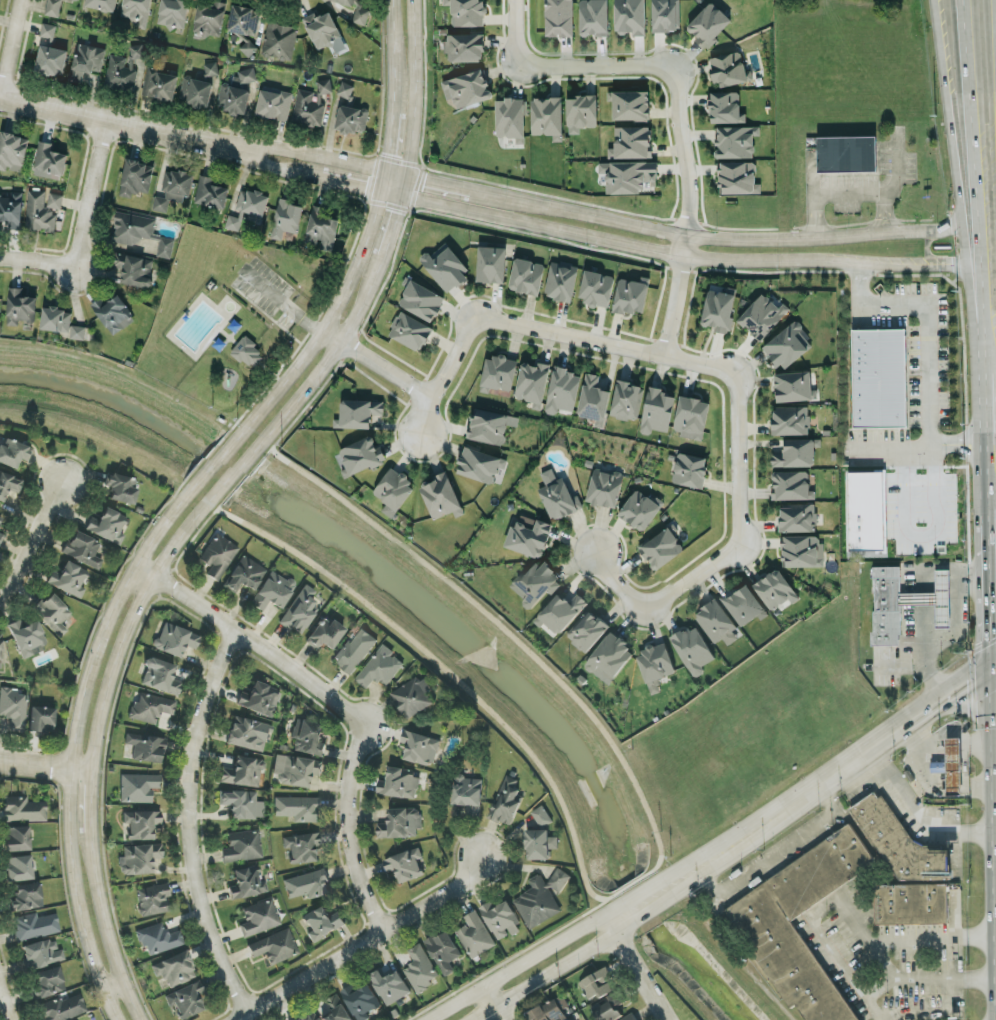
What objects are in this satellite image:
building: (77, 0)
building: (100, 4)
building: (52, 7)
building: (357, 10)
building: (136, 11)
building: (466, 12)
building: (172, 13)
building: (664, 15)
building: (629, 16)
building: (558, 17)
building: (592, 17)
building: (208, 18)
road: (995, 18)
building: (708, 23)
building: (244, 24)
building: (47, 29)
building: (322, 30)
building: (278, 39)
building: (463, 46)
road: (11, 49)
road: (392, 55)
building: (50, 59)
building: (85, 60)
road: (650, 63)
building: (727, 67)
building: (122, 68)
building: (210, 68)
building: (159, 83)
building: (466, 87)
building: (344, 88)
building: (195, 90)
building: (235, 91)
building: (273, 102)
building: (310, 103)
building: (629, 104)
building: (725, 106)
building: (580, 111)
building: (546, 116)
building: (350, 117)
building: (509, 118)
road: (102, 119)
road: (950, 131)
road: (389, 140)
building: (735, 140)
building: (630, 141)
building: (12, 150)
building: (846, 153)
road: (295, 154)
building: (48, 158)
road: (291, 169)
building: (630, 175)
building: (135, 176)
building: (736, 177)
road: (893, 178)
road: (382, 180)
road: (977, 181)
building: (164, 183)
building: (174, 189)
building: (210, 192)
road: (808, 192)
road: (847, 193)
building: (251, 201)
building: (11, 208)
building: (41, 210)
building: (286, 217)
building: (232, 221)
building: (131, 227)
building: (320, 228)
road: (81, 231)
road: (670, 232)
road: (384, 242)
road: (683, 245)
building: (164, 246)
road: (669, 253)
building: (490, 263)
building: (133, 267)
building: (444, 267)
building: (525, 275)
building: (560, 279)
building: (595, 287)
building: (630, 294)
road: (278, 298)
building: (420, 299)
road: (673, 304)
building: (19, 306)
building: (718, 308)
building: (113, 312)
road: (972, 314)
building: (761, 315)
building: (55, 318)
road: (323, 323)
building: (409, 330)
building: (77, 331)
road: (329, 334)
building: (786, 344)
building: (247, 351)
road: (994, 354)
road: (927, 357)
road: (717, 364)
road: (384, 367)
building: (498, 371)
building: (878, 377)
building: (531, 382)
building: (792, 385)
building: (561, 389)
road: (993, 396)
building: (625, 399)
building: (656, 410)
building: (356, 412)
building: (690, 415)
building: (789, 419)
building: (488, 424)
road: (995, 443)
road: (961, 444)
building: (794, 452)
building: (13, 453)
building: (359, 455)
road: (214, 463)
building: (478, 463)
road: (994, 463)
building: (689, 469)
road: (232, 475)
building: (790, 484)
building: (9, 485)
building: (603, 487)
building: (121, 489)
building: (392, 490)
building: (556, 494)
building: (440, 495)
building: (639, 508)
building: (865, 510)
building: (796, 516)
building: (0, 520)
road: (995, 521)
building: (107, 527)
road: (914, 532)
building: (528, 536)
building: (1, 539)
road: (32, 542)
building: (660, 546)
building: (801, 550)
building: (83, 551)
road: (995, 551)
road: (995, 554)
building: (218, 556)
road: (995, 568)
road: (144, 572)
building: (245, 575)
building: (68, 580)
road: (995, 582)
building: (536, 584)
road: (923, 587)
building: (774, 588)
building: (273, 592)
building: (901, 603)
building: (744, 606)
building: (300, 611)
building: (52, 614)
building: (562, 614)
building: (719, 625)
road: (995, 627)
building: (589, 632)
building: (324, 634)
road: (953, 635)
building: (27, 638)
building: (175, 640)
building: (0, 650)
building: (694, 651)
building: (355, 652)
building: (611, 660)
building: (657, 667)
building: (380, 670)
traffic signals: (995, 672)
building: (160, 677)
building: (414, 698)
building: (260, 700)
building: (150, 708)
building: (14, 709)
road: (349, 716)
building: (41, 720)
building: (248, 735)
road: (904, 736)
building: (309, 738)
road: (74, 742)
building: (145, 748)
building: (421, 748)
road: (93, 749)
road: (45, 766)
building: (955, 767)
building: (296, 771)
building: (243, 773)
building: (400, 784)
building: (138, 788)
building: (469, 796)
building: (508, 803)
building: (242, 805)
building: (297, 809)
building: (23, 810)
building: (542, 817)
road: (921, 821)
building: (401, 824)
building: (141, 825)
road: (187, 826)
building: (16, 839)
building: (899, 843)
building: (541, 845)
building: (242, 847)
building: (301, 847)
building: (139, 860)
building: (407, 866)
building: (18, 869)
building: (247, 884)
building: (308, 885)
building: (26, 897)
building: (542, 900)
building: (153, 901)
building: (912, 905)
road: (620, 907)
road: (844, 909)
road: (646, 914)
building: (259, 918)
building: (503, 921)
building: (322, 923)
building: (35, 927)
building: (476, 936)
building: (158, 940)
road: (366, 942)
building: (274, 947)
building: (445, 953)
building: (42, 954)
road: (737, 958)
building: (789, 961)
road: (631, 969)
building: (174, 970)
building: (422, 970)
road: (927, 979)
building: (47, 983)
building: (598, 985)
building: (391, 986)
road: (113, 987)
building: (185, 1001)
building: (363, 1002)
road: (490, 1004)
road: (4, 1006)
building: (63, 1008)
building: (610, 1008)
building: (337, 1009)
building: (551, 1010)
road: (936, 1015)
building: (308, 1017)
building: (631, 1018)

